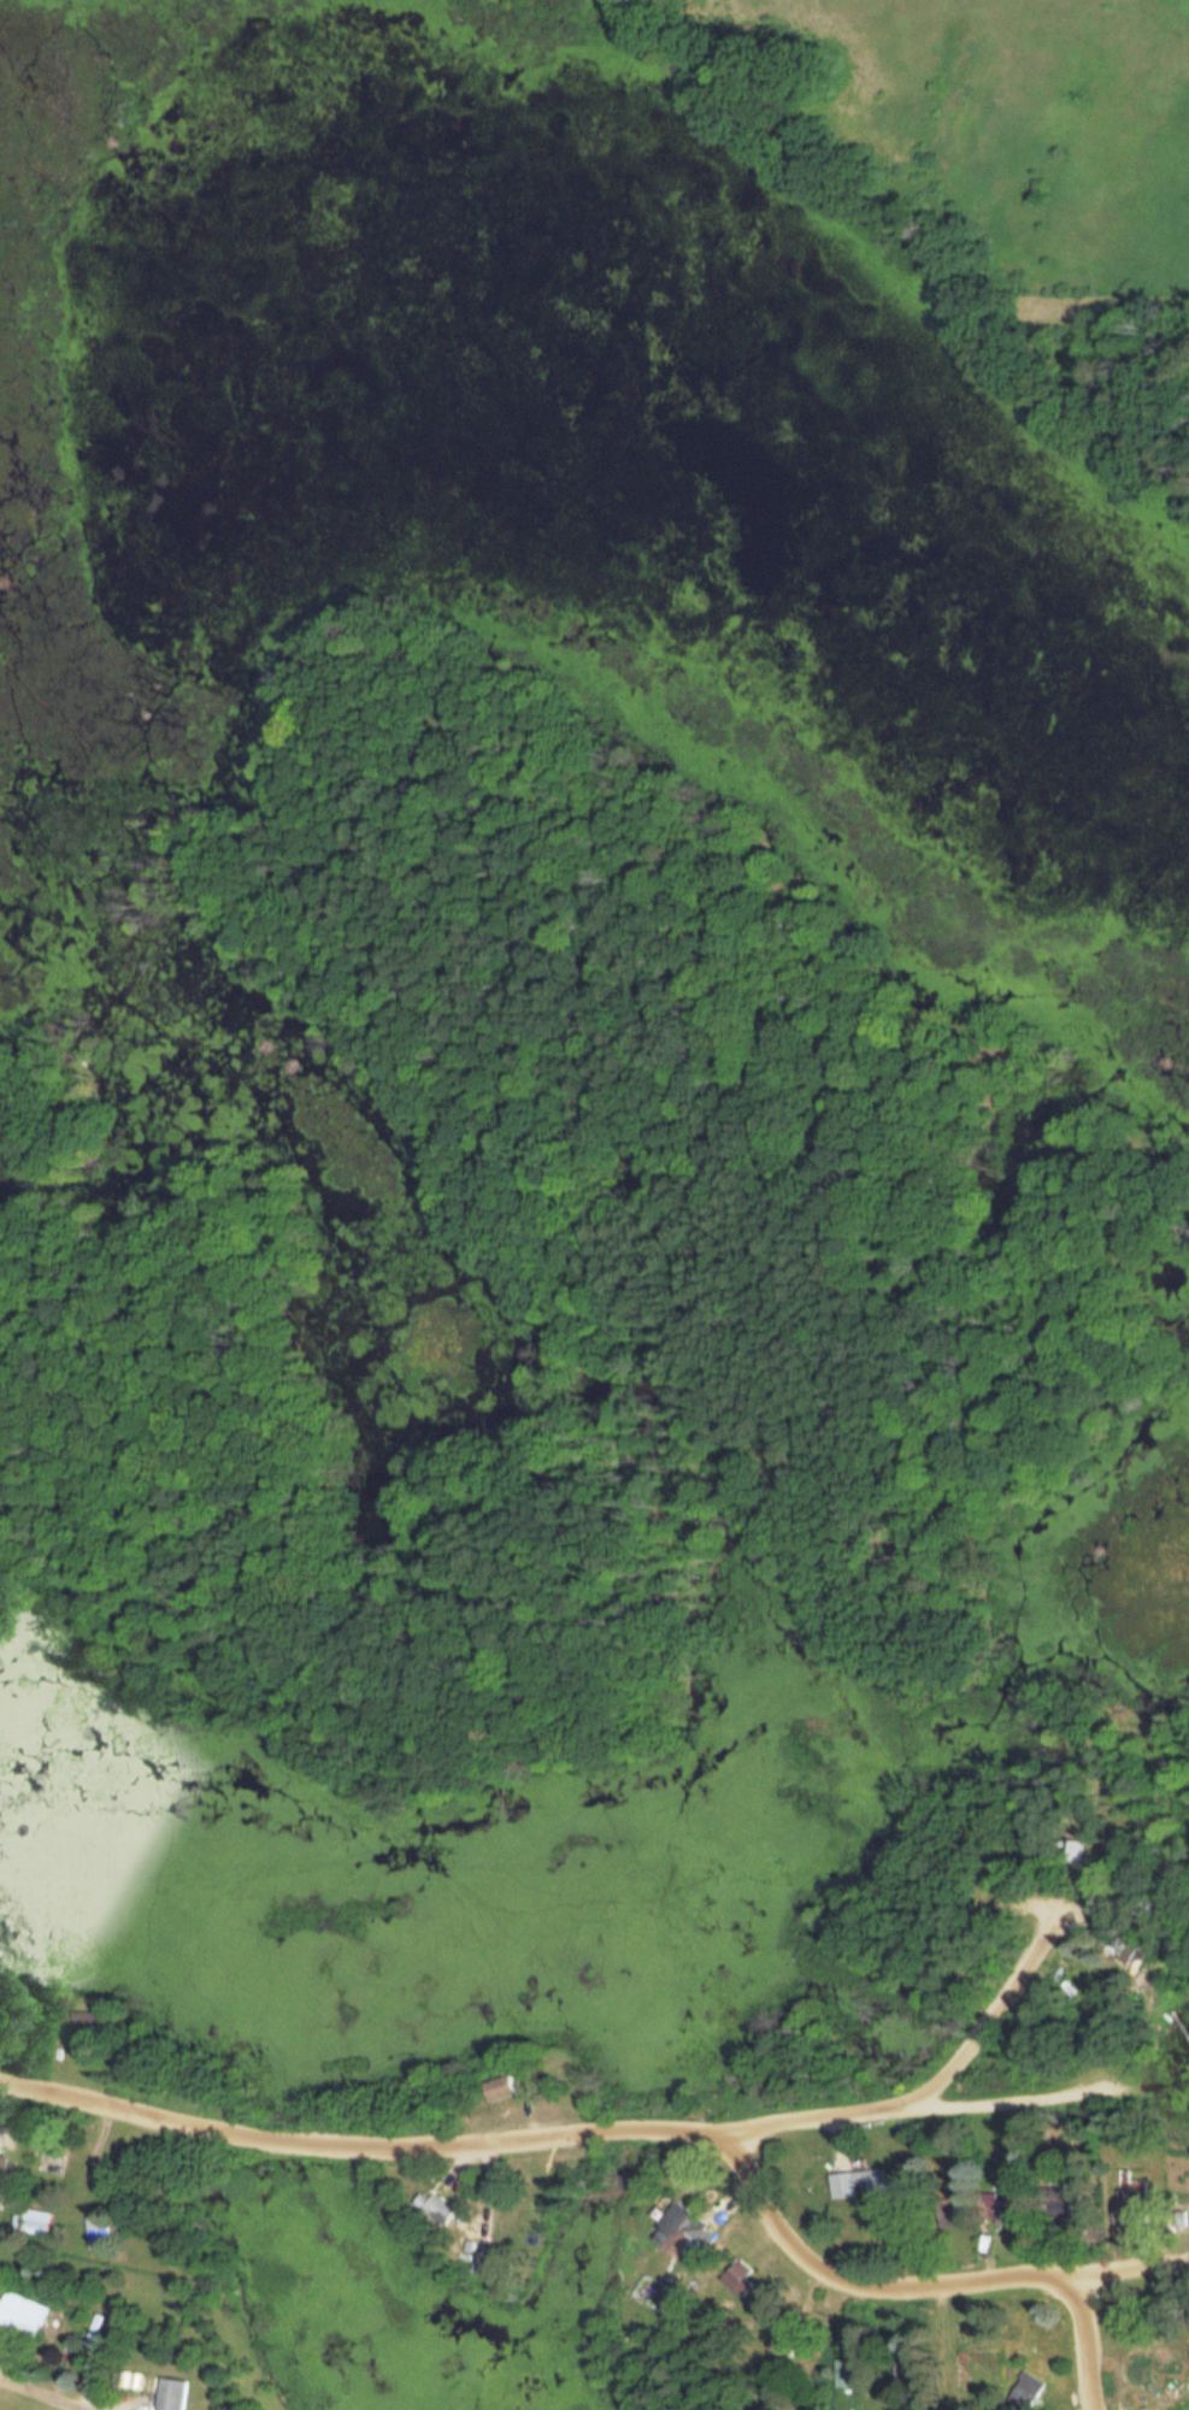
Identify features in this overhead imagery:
building: (1070, 1848)
road: (996, 2014)
building: (83, 2021)
building: (496, 2087)
road: (887, 2105)
road: (617, 2129)
building: (0, 2167)
building: (855, 2182)
building: (989, 2205)
building: (432, 2208)
building: (29, 2220)
building: (94, 2229)
building: (675, 2232)
building: (735, 2279)
building: (20, 2314)
road: (1083, 2343)
building: (782, 2345)
building: (838, 2371)
building: (1185, 2385)
building: (1022, 2391)
building: (169, 2393)

